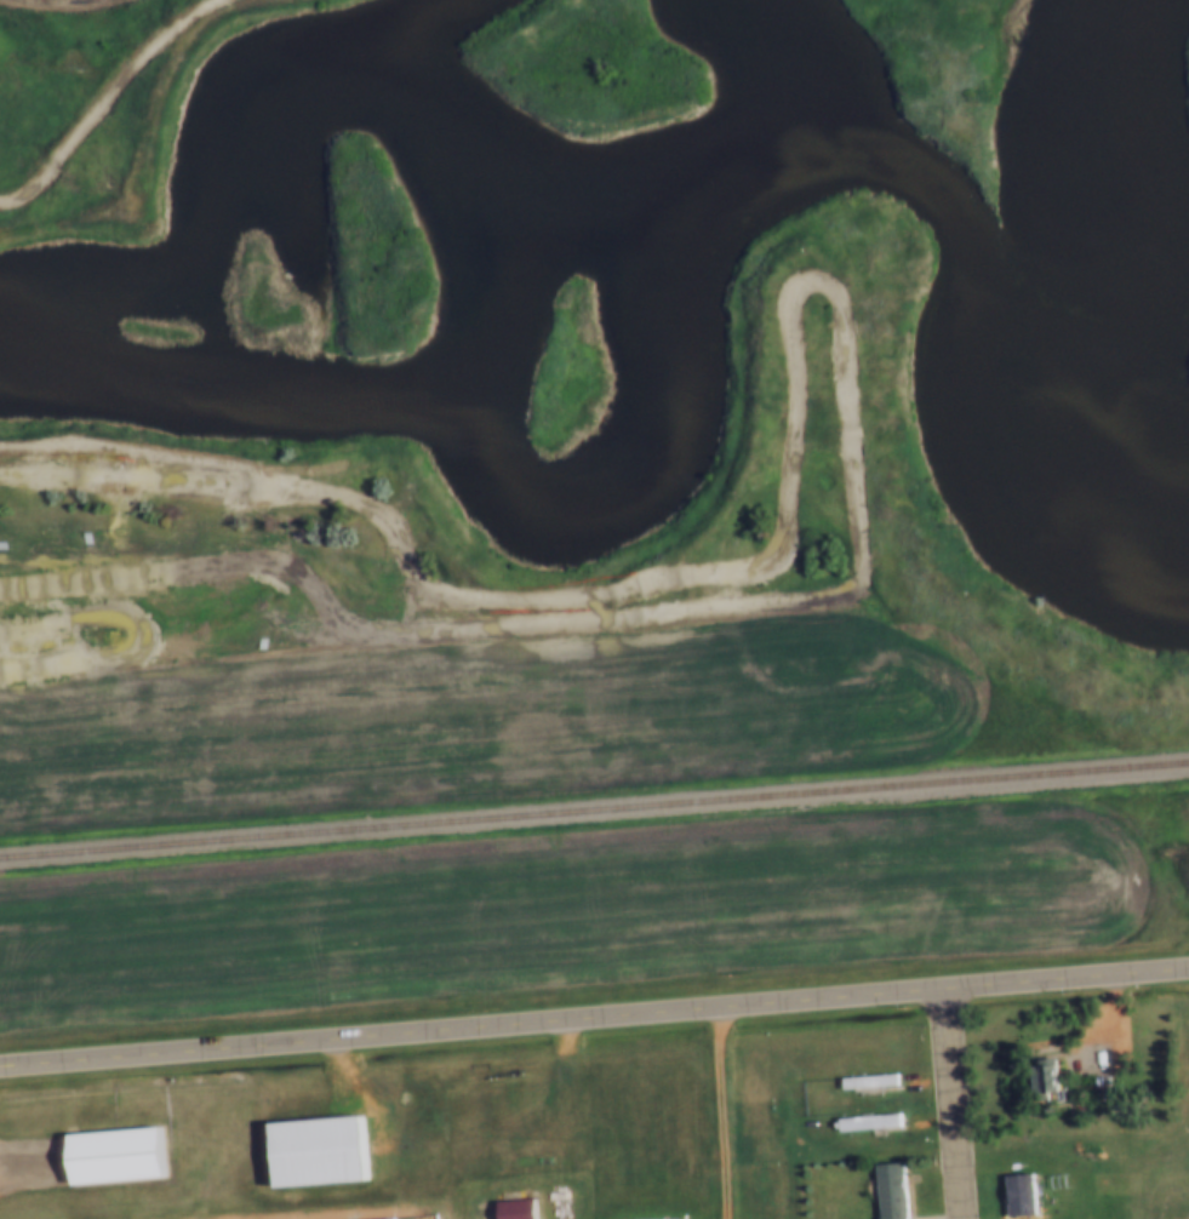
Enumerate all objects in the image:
road: (131, 69)
railway: (594, 809)
road: (594, 1019)
building: (1039, 1081)
building: (865, 1084)
road: (953, 1105)
road: (727, 1115)
building: (865, 1124)
building: (311, 1151)
building: (113, 1160)
building: (887, 1191)
building: (1016, 1196)
building: (510, 1209)
building: (381, 1218)
building: (391, 1218)
building: (645, 1218)

